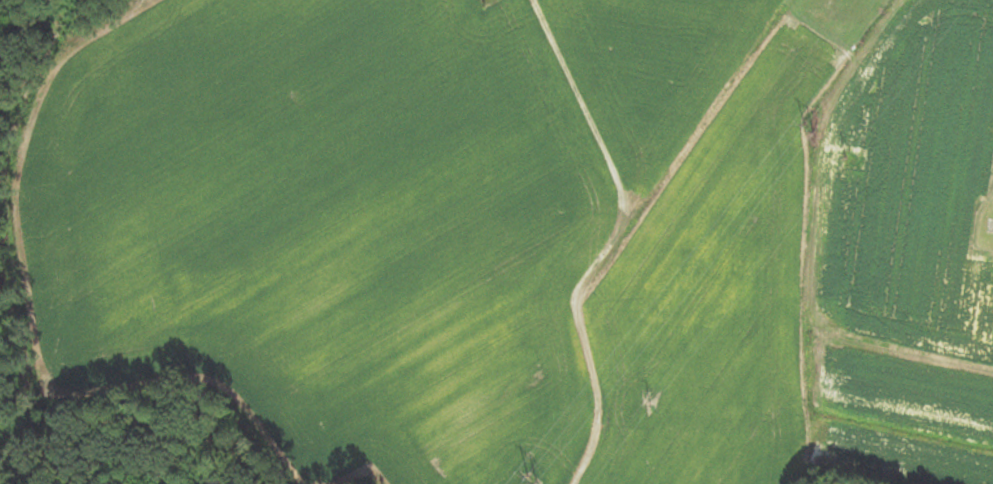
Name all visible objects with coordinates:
power tower: (808, 130)
power tower: (527, 483)

